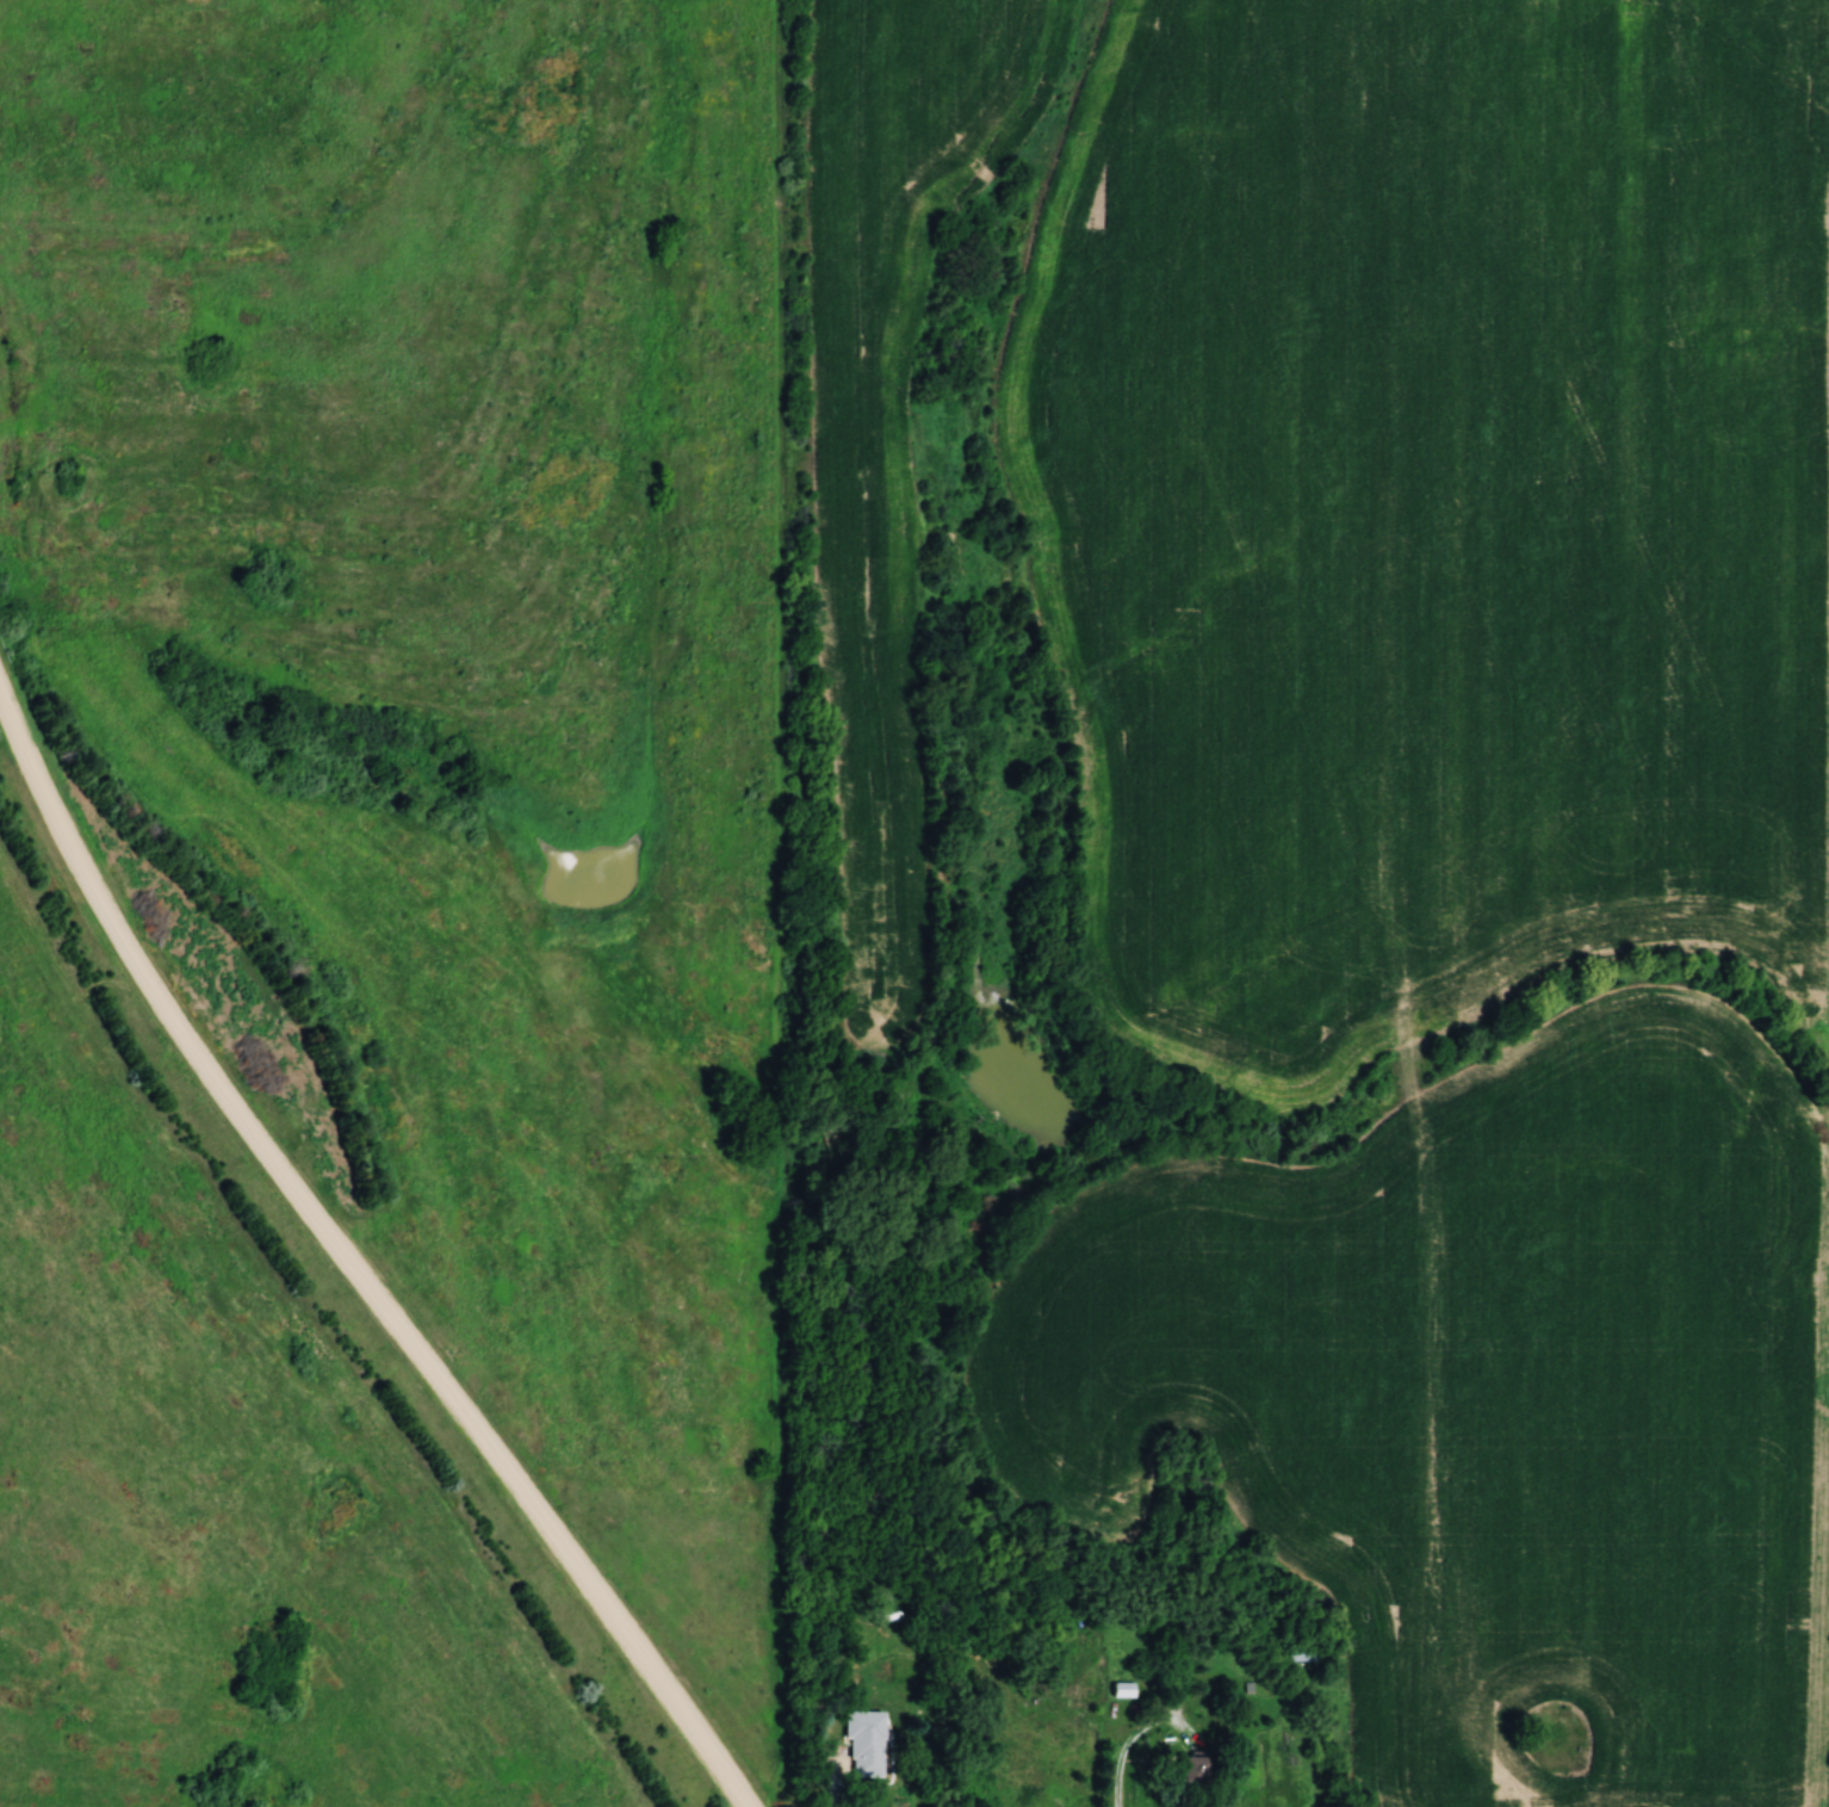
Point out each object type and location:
road: (348, 1261)
building: (1306, 1651)
building: (1124, 1690)
road: (1130, 1739)
building: (869, 1744)
building: (1198, 1770)
road: (835, 1782)

